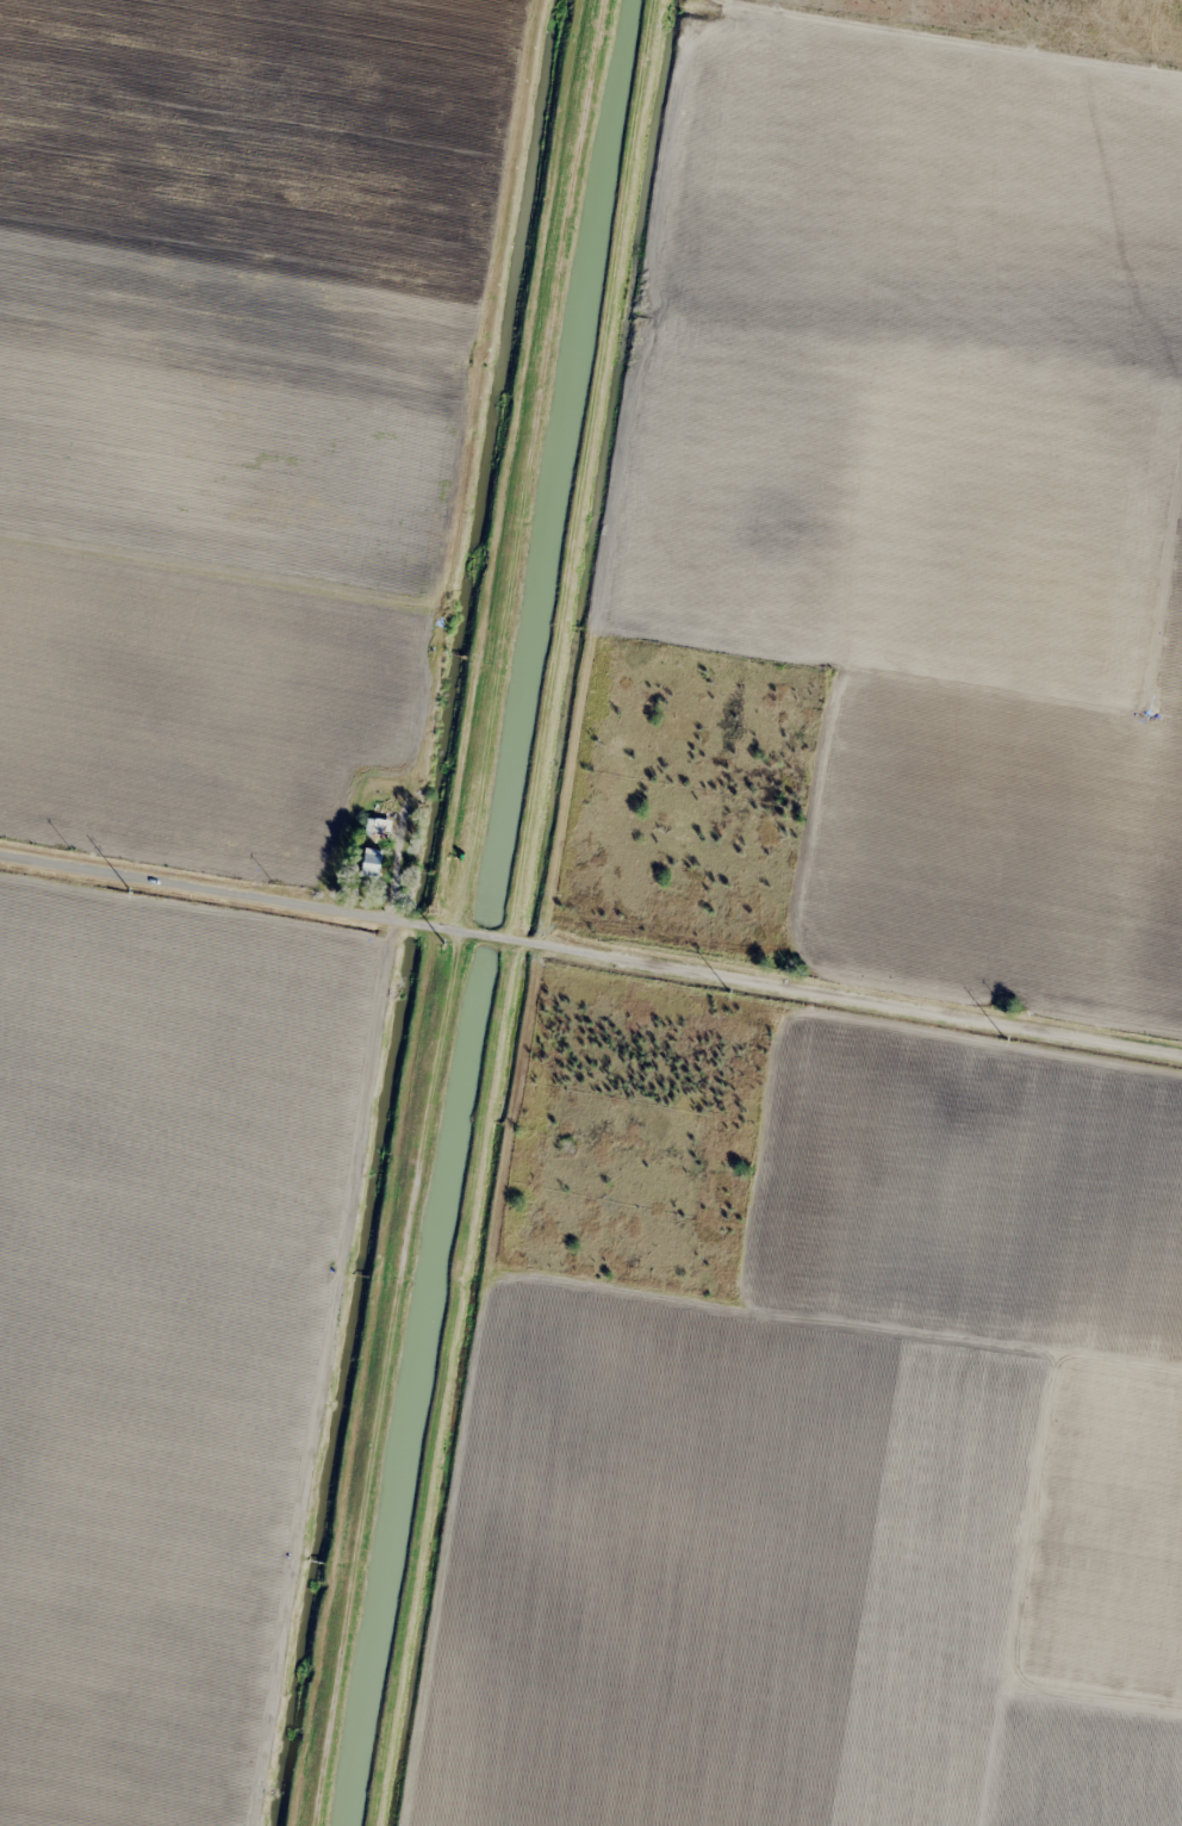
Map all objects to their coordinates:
building: (381, 819)
building: (373, 862)
road: (301, 906)
road: (892, 1007)

